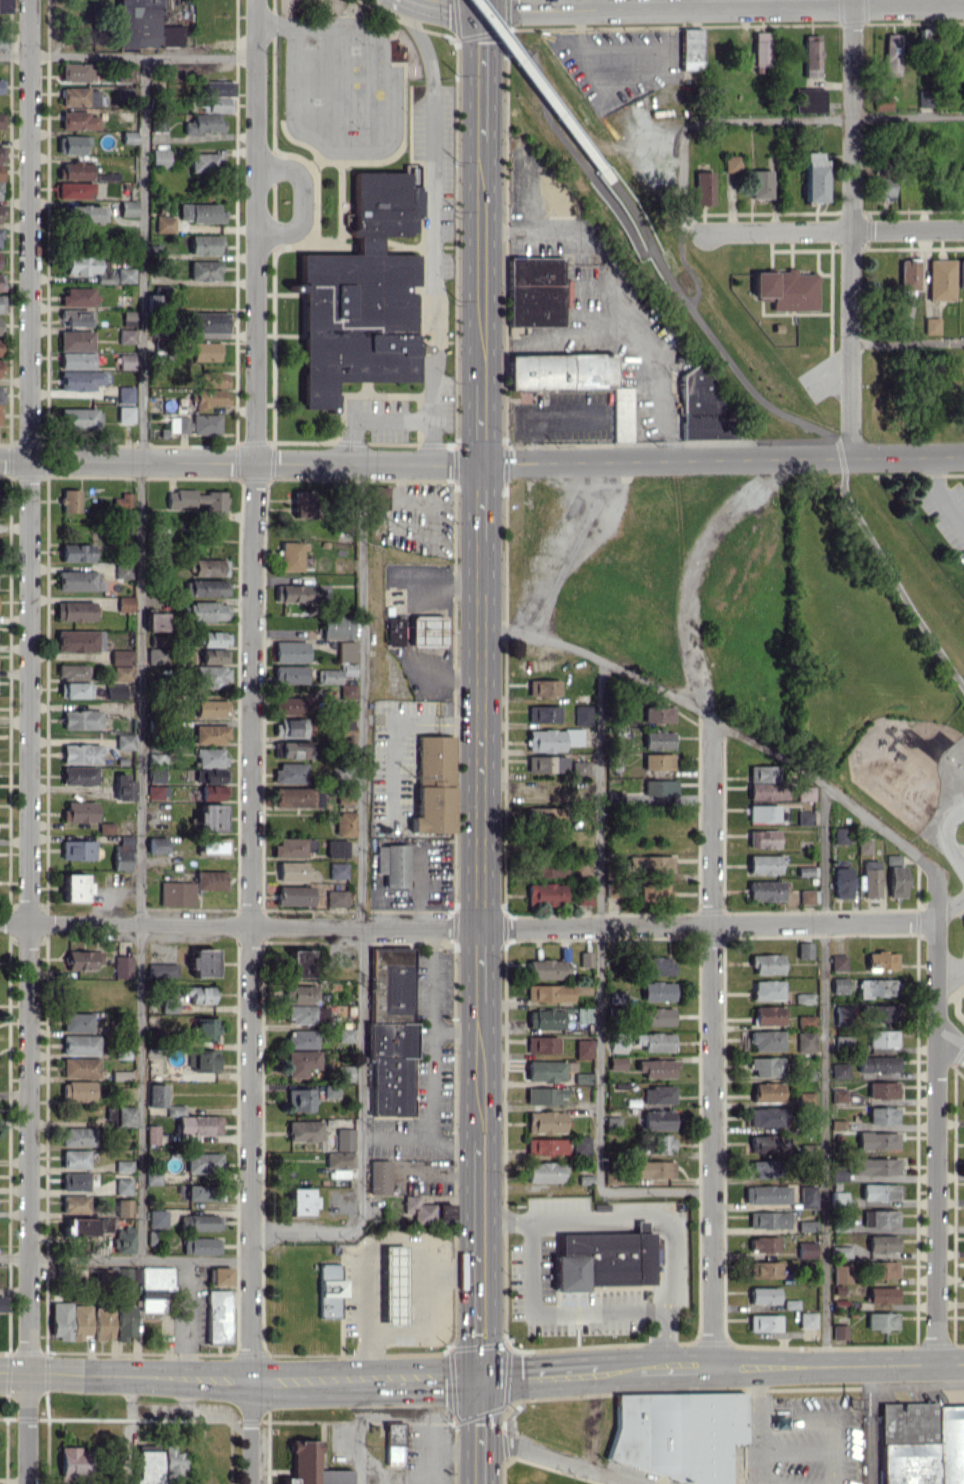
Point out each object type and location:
road: (729, 3)
road: (596, 4)
road: (455, 5)
building: (4, 6)
road: (722, 7)
traffic signals: (481, 8)
road: (304, 24)
building: (143, 26)
road: (418, 36)
building: (760, 48)
building: (690, 49)
building: (891, 54)
building: (811, 55)
road: (127, 56)
building: (76, 71)
building: (1, 85)
building: (217, 87)
road: (540, 91)
building: (79, 96)
building: (924, 98)
building: (808, 100)
building: (881, 102)
building: (218, 104)
road: (480, 116)
road: (837, 119)
building: (1, 120)
building: (78, 120)
building: (203, 123)
building: (72, 144)
building: (1, 154)
building: (159, 158)
building: (203, 162)
building: (731, 162)
building: (74, 170)
building: (1, 172)
road: (682, 175)
building: (813, 176)
building: (760, 183)
building: (0, 187)
building: (703, 187)
building: (883, 189)
building: (75, 190)
road: (301, 200)
road: (524, 200)
building: (128, 208)
building: (1, 210)
building: (82, 213)
building: (200, 213)
building: (164, 224)
road: (850, 228)
road: (834, 231)
road: (502, 232)
building: (0, 236)
building: (205, 244)
building: (88, 266)
road: (427, 268)
building: (204, 270)
building: (960, 273)
building: (125, 274)
building: (908, 274)
building: (940, 279)
building: (1, 281)
building: (786, 289)
building: (534, 291)
building: (360, 295)
building: (78, 296)
building: (1, 303)
road: (629, 315)
building: (73, 318)
building: (127, 318)
building: (207, 322)
building: (0, 323)
building: (932, 325)
building: (126, 336)
building: (75, 340)
road: (907, 343)
building: (0, 347)
road: (480, 347)
building: (205, 351)
building: (76, 360)
building: (126, 361)
building: (0, 368)
building: (560, 371)
building: (212, 379)
building: (79, 380)
building: (1, 393)
building: (124, 394)
building: (210, 397)
building: (531, 403)
building: (699, 404)
building: (621, 413)
building: (125, 415)
road: (367, 416)
building: (79, 417)
road: (807, 422)
building: (178, 424)
building: (205, 424)
road: (721, 459)
road: (239, 461)
road: (940, 494)
building: (378, 497)
building: (69, 500)
building: (180, 503)
building: (303, 504)
building: (76, 552)
building: (290, 555)
building: (207, 567)
building: (123, 570)
road: (688, 572)
building: (78, 580)
building: (205, 587)
building: (293, 593)
building: (124, 603)
building: (74, 611)
building: (206, 611)
building: (154, 621)
building: (337, 627)
building: (393, 630)
building: (427, 630)
building: (214, 638)
building: (78, 640)
building: (155, 640)
building: (289, 651)
building: (346, 651)
building: (155, 655)
building: (213, 656)
building: (121, 657)
road: (141, 657)
building: (71, 670)
building: (121, 673)
building: (289, 674)
building: (327, 676)
building: (210, 677)
building: (542, 688)
road: (251, 689)
building: (74, 690)
building: (115, 691)
building: (346, 691)
building: (289, 705)
building: (211, 708)
building: (542, 713)
building: (581, 714)
building: (657, 714)
building: (81, 719)
road: (721, 722)
building: (290, 727)
building: (345, 729)
road: (391, 732)
building: (210, 734)
building: (552, 739)
building: (657, 740)
building: (123, 741)
road: (29, 742)
building: (294, 749)
building: (80, 753)
building: (210, 757)
building: (657, 761)
building: (546, 763)
building: (580, 768)
building: (290, 772)
building: (762, 773)
building: (78, 775)
building: (156, 775)
building: (210, 775)
building: (433, 784)
building: (123, 787)
building: (658, 789)
building: (766, 791)
building: (157, 792)
building: (212, 793)
building: (805, 793)
building: (297, 797)
road: (479, 799)
building: (79, 811)
building: (762, 813)
building: (546, 816)
building: (209, 817)
building: (804, 818)
building: (344, 823)
building: (104, 827)
road: (360, 835)
building: (840, 835)
road: (946, 837)
building: (762, 838)
building: (156, 845)
building: (863, 846)
building: (212, 847)
building: (292, 847)
building: (336, 848)
building: (77, 849)
building: (122, 853)
building: (892, 859)
building: (649, 863)
building: (391, 864)
building: (763, 864)
building: (581, 866)
building: (549, 868)
building: (337, 870)
building: (291, 871)
building: (870, 878)
building: (210, 880)
building: (896, 881)
building: (841, 882)
building: (74, 887)
building: (765, 890)
building: (653, 891)
building: (176, 893)
building: (544, 893)
building: (294, 895)
building: (583, 896)
building: (805, 896)
building: (335, 898)
road: (949, 908)
road: (467, 927)
building: (803, 950)
building: (82, 959)
building: (584, 959)
building: (881, 960)
building: (202, 962)
building: (837, 962)
building: (298, 963)
building: (766, 964)
building: (655, 965)
building: (122, 966)
building: (545, 969)
building: (162, 970)
road: (950, 978)
building: (390, 981)
road: (598, 982)
building: (839, 985)
building: (876, 987)
building: (580, 989)
building: (766, 990)
building: (657, 991)
building: (548, 992)
building: (198, 994)
building: (299, 994)
building: (803, 997)
building: (169, 1004)
building: (876, 1012)
building: (299, 1014)
building: (319, 1014)
building: (767, 1015)
building: (657, 1016)
building: (544, 1019)
building: (805, 1020)
building: (76, 1022)
building: (205, 1029)
road: (454, 1031)
building: (344, 1034)
road: (430, 1034)
building: (882, 1038)
building: (300, 1039)
road: (950, 1039)
building: (765, 1040)
building: (617, 1041)
building: (653, 1041)
building: (805, 1041)
road: (711, 1042)
building: (79, 1044)
building: (541, 1044)
building: (582, 1048)
building: (200, 1060)
building: (300, 1062)
building: (614, 1063)
building: (876, 1064)
building: (765, 1066)
building: (79, 1067)
building: (389, 1067)
building: (655, 1067)
building: (839, 1070)
building: (544, 1071)
building: (342, 1073)
road: (824, 1075)
building: (581, 1077)
building: (882, 1089)
building: (76, 1090)
building: (329, 1091)
building: (766, 1092)
building: (123, 1093)
building: (657, 1094)
building: (156, 1095)
building: (544, 1095)
building: (837, 1096)
building: (804, 1098)
building: (297, 1100)
building: (882, 1115)
building: (124, 1116)
building: (765, 1116)
road: (936, 1118)
building: (657, 1119)
building: (544, 1122)
building: (836, 1124)
building: (197, 1125)
building: (303, 1130)
building: (151, 1134)
building: (76, 1136)
building: (344, 1137)
building: (876, 1140)
road: (419, 1141)
building: (766, 1143)
building: (662, 1144)
building: (581, 1145)
building: (545, 1146)
building: (806, 1149)
building: (74, 1158)
building: (202, 1162)
building: (338, 1163)
building: (122, 1166)
building: (874, 1166)
building: (762, 1168)
building: (653, 1169)
building: (543, 1172)
building: (836, 1173)
building: (378, 1176)
building: (152, 1177)
building: (74, 1181)
building: (122, 1186)
building: (879, 1191)
building: (202, 1192)
building: (765, 1194)
building: (806, 1196)
building: (299, 1201)
building: (74, 1202)
building: (122, 1207)
building: (417, 1209)
building: (443, 1211)
road: (645, 1214)
building: (156, 1218)
building: (879, 1218)
building: (767, 1219)
building: (199, 1222)
building: (86, 1225)
road: (310, 1231)
road: (401, 1239)
building: (122, 1240)
building: (881, 1243)
building: (762, 1244)
building: (203, 1245)
building: (805, 1249)
building: (840, 1251)
road: (479, 1255)
road: (124, 1258)
building: (601, 1260)
building: (763, 1269)
building: (883, 1269)
road: (452, 1273)
building: (840, 1273)
building: (125, 1274)
building: (218, 1276)
building: (154, 1277)
building: (392, 1285)
building: (329, 1291)
building: (762, 1295)
building: (881, 1295)
building: (151, 1302)
building: (1, 1303)
building: (217, 1315)
road: (548, 1315)
road: (187, 1318)
building: (806, 1319)
building: (59, 1320)
building: (79, 1321)
building: (881, 1321)
building: (123, 1322)
building: (763, 1322)
building: (102, 1323)
building: (839, 1331)
road: (858, 1364)
road: (733, 1366)
road: (676, 1368)
road: (618, 1371)
road: (538, 1374)
road: (124, 1375)
traffic signals: (480, 1377)
road: (414, 1378)
road: (298, 1379)
road: (754, 1395)
road: (792, 1423)
road: (130, 1430)
road: (480, 1430)
road: (249, 1431)
road: (360, 1432)
building: (678, 1433)
building: (393, 1443)
building: (922, 1443)
road: (756, 1450)
road: (831, 1454)
road: (565, 1459)
building: (72, 1461)
building: (171, 1462)
building: (311, 1466)
building: (145, 1467)
road: (751, 1479)
road: (757, 1480)
building: (1, 1483)

